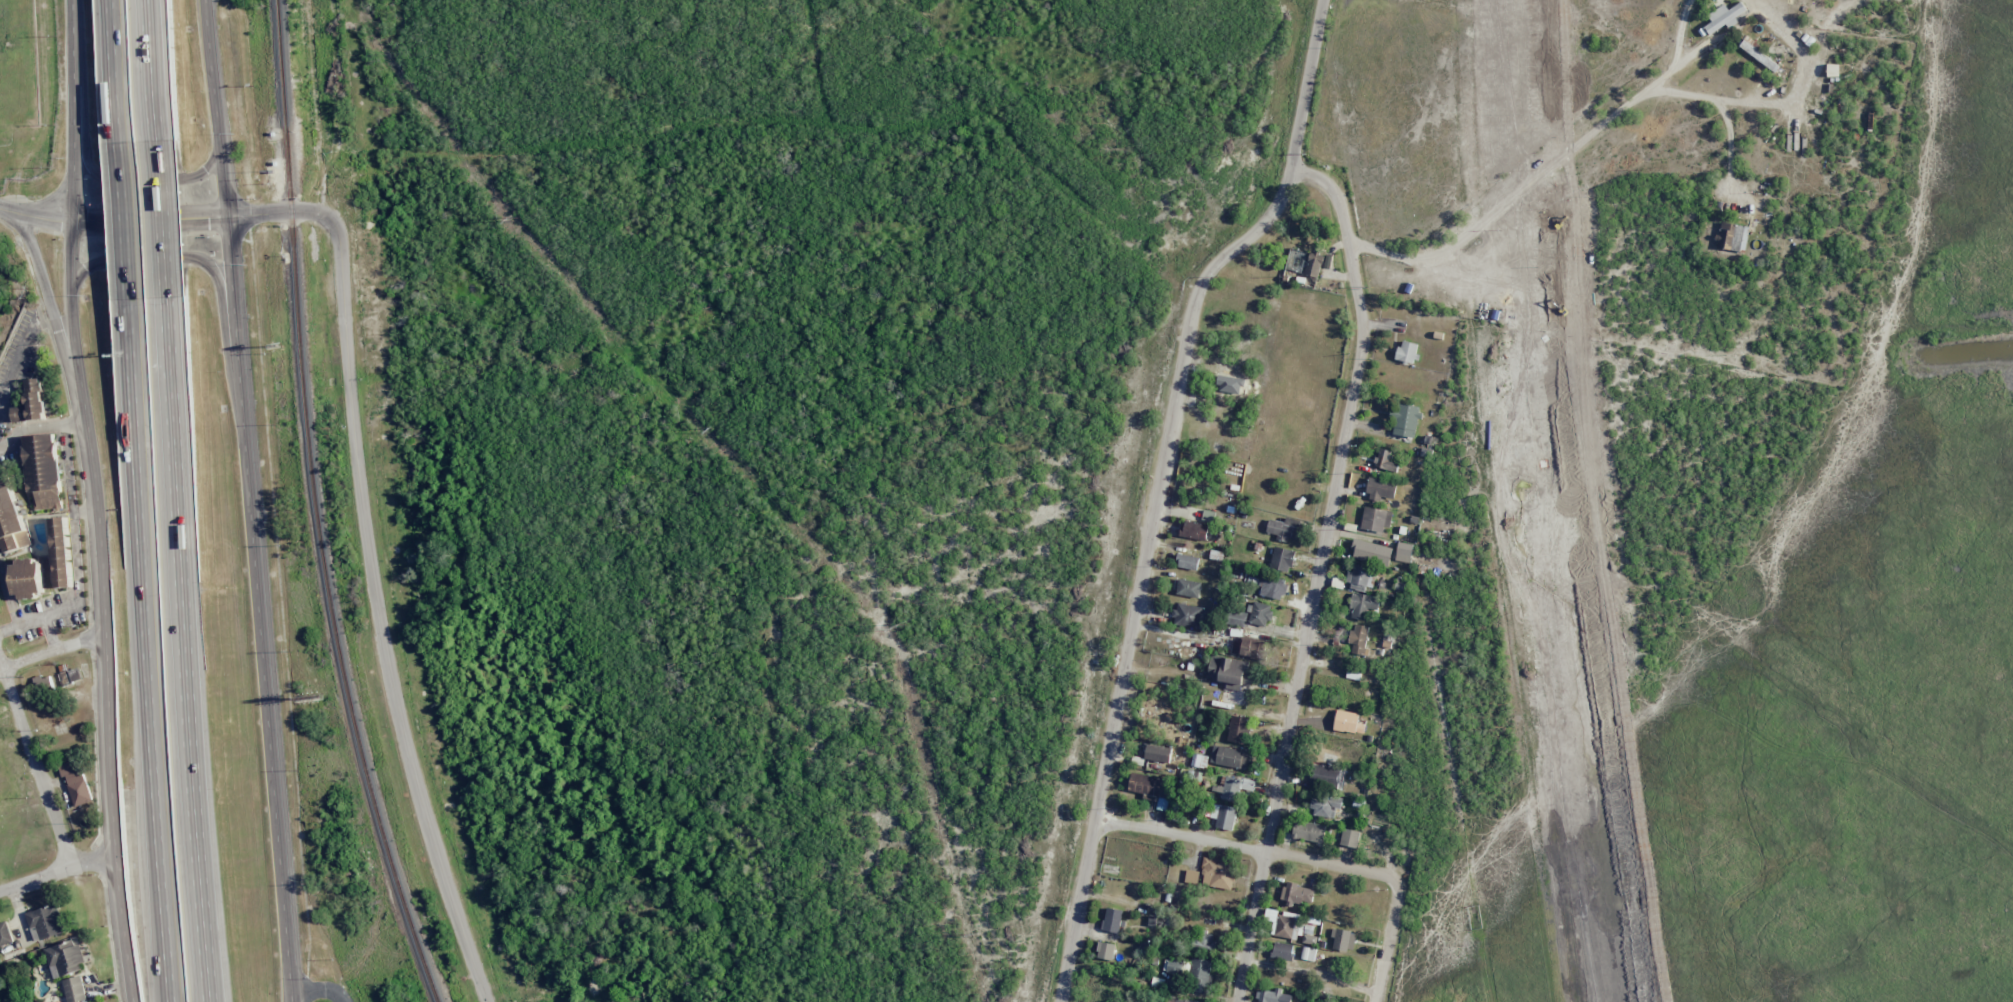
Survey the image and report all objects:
building: (1723, 18)
building: (1756, 52)
road: (118, 69)
road: (153, 70)
building: (1832, 70)
road: (147, 181)
road: (71, 198)
road: (35, 216)
road: (125, 217)
power tower: (512, 218)
road: (161, 219)
road: (148, 220)
building: (1732, 237)
road: (160, 257)
building: (1313, 265)
road: (47, 302)
building: (1407, 351)
building: (32, 403)
building: (1405, 421)
power tower: (708, 430)
building: (1386, 462)
building: (43, 472)
road: (1162, 485)
building: (1380, 489)
road: (248, 501)
railway: (316, 507)
building: (1208, 516)
building: (10, 519)
building: (1376, 519)
building: (1283, 528)
building: (1194, 530)
road: (142, 545)
building: (1371, 552)
building: (1404, 552)
building: (62, 553)
building: (1282, 559)
building: (1187, 562)
road: (370, 566)
road: (1315, 571)
building: (27, 578)
building: (1362, 578)
building: (1272, 587)
building: (1188, 588)
building: (1362, 605)
building: (1260, 614)
building: (1190, 616)
building: (1236, 618)
power tower: (896, 627)
building: (1358, 639)
road: (51, 647)
building: (1246, 648)
road: (185, 650)
building: (1229, 672)
building: (71, 676)
building: (42, 683)
road: (107, 698)
building: (1348, 722)
building: (1238, 730)
building: (1157, 753)
building: (1228, 757)
road: (35, 758)
building: (1199, 761)
building: (1327, 777)
building: (6, 781)
building: (76, 783)
building: (1144, 784)
building: (1235, 787)
building: (1324, 805)
building: (1225, 817)
building: (1311, 831)
building: (1349, 838)
road: (1247, 850)
road: (56, 867)
building: (1218, 874)
building: (1191, 876)
building: (1297, 893)
road: (162, 898)
building: (1112, 920)
building: (46, 922)
building: (1288, 927)
building: (5, 934)
power tower: (974, 935)
building: (1343, 940)
building: (1206, 941)
road: (1385, 942)
building: (1105, 951)
building: (1282, 951)
building: (64, 958)
building: (1174, 967)
building: (1199, 975)
road: (319, 988)
building: (75, 990)
building: (1272, 996)
building: (1183, 1000)

